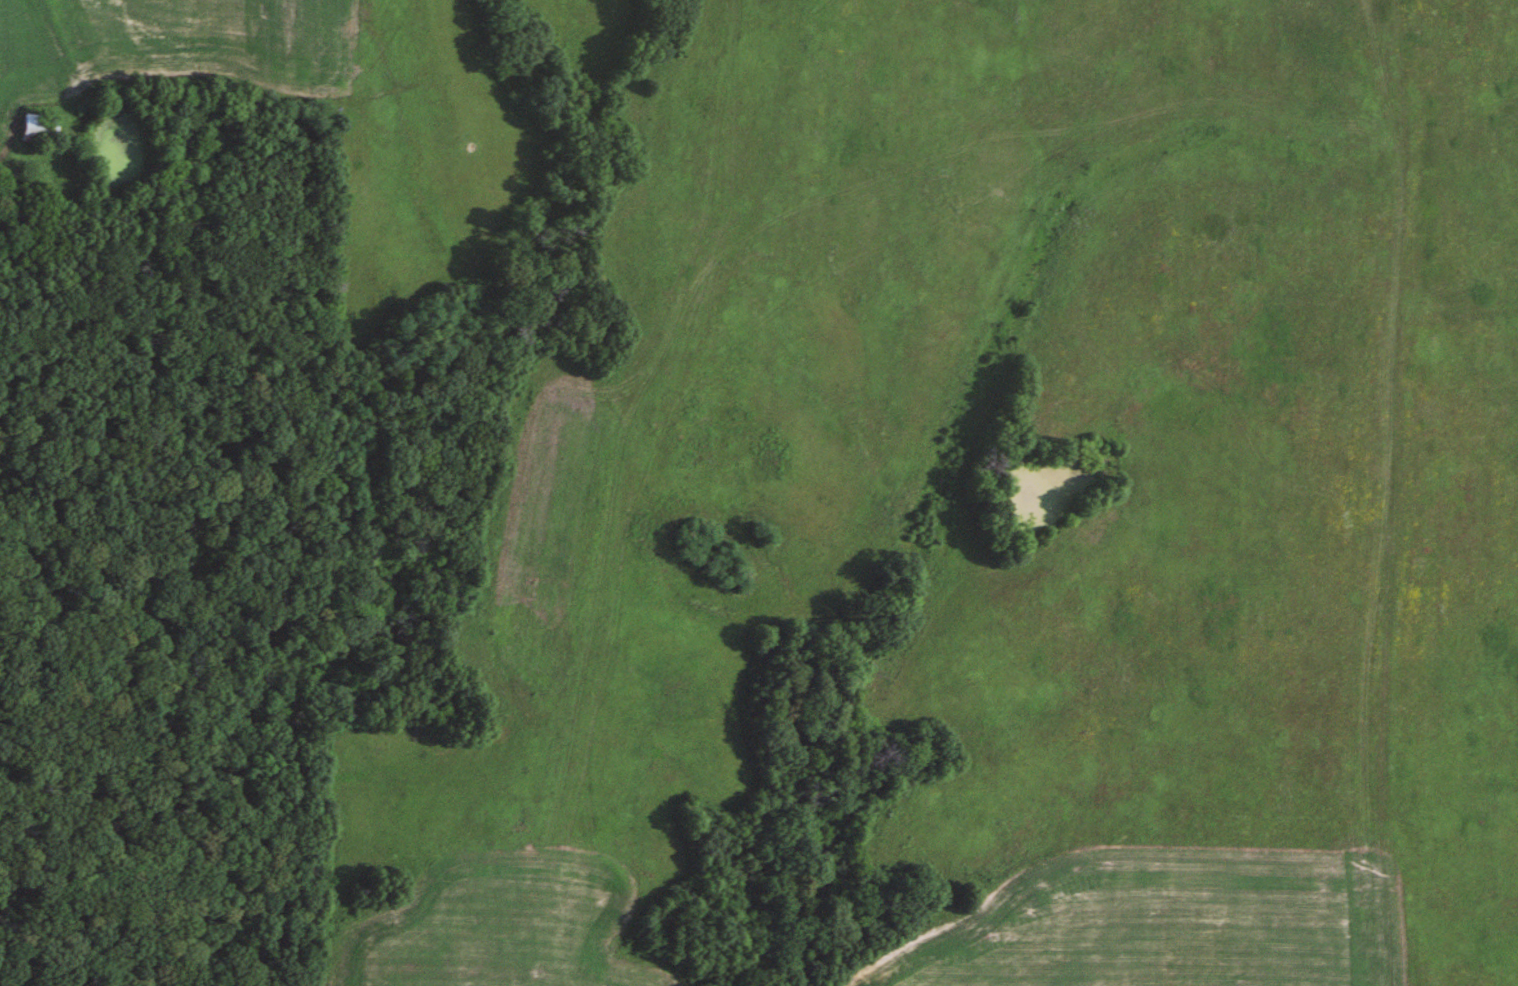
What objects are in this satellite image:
building: (35, 127)

